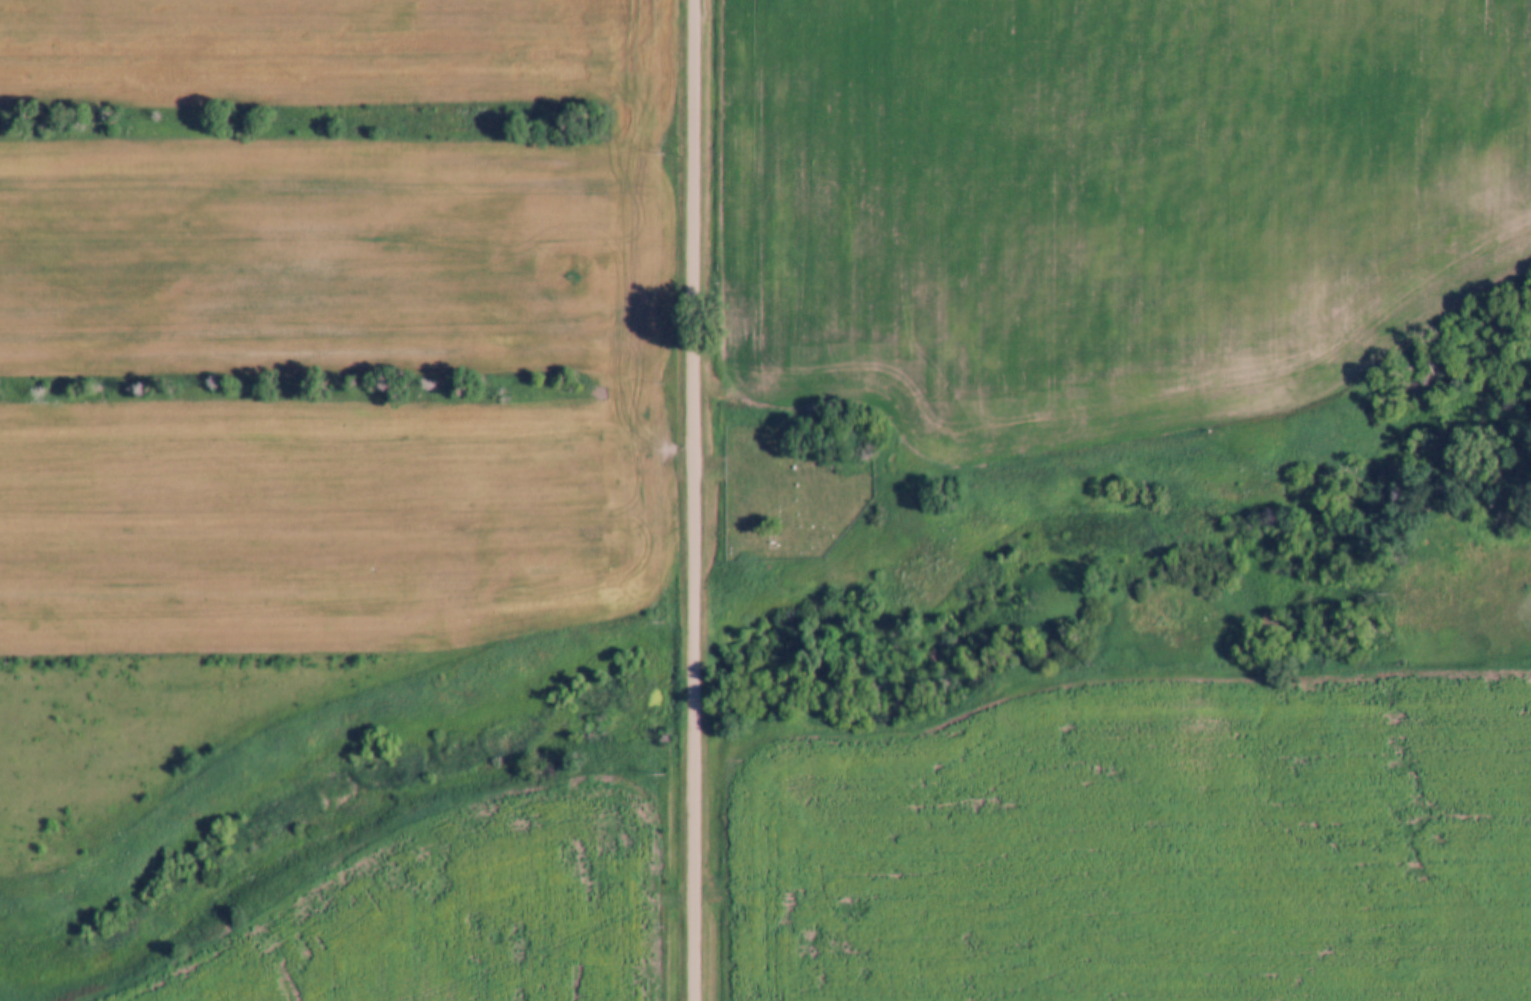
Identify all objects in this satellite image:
park: (793, 485)
road: (696, 500)

